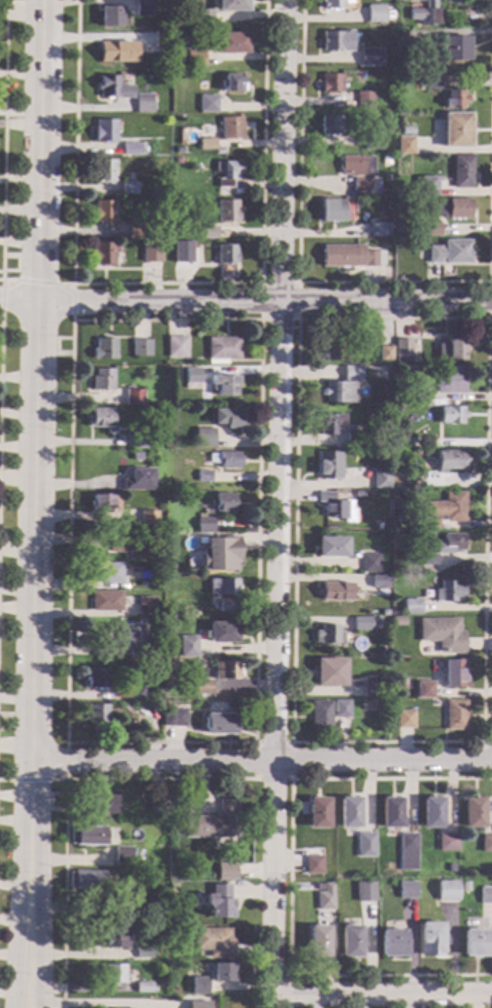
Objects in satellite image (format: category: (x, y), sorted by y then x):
building: (415, 0)
building: (334, 4)
building: (232, 5)
building: (142, 8)
building: (375, 14)
building: (425, 14)
building: (110, 16)
building: (204, 18)
building: (162, 40)
building: (337, 41)
building: (230, 43)
building: (453, 48)
building: (117, 52)
building: (165, 55)
building: (370, 57)
building: (195, 59)
building: (431, 82)
building: (233, 83)
building: (331, 83)
building: (113, 88)
building: (454, 99)
building: (364, 100)
building: (143, 103)
building: (208, 104)
building: (331, 125)
building: (232, 128)
building: (105, 130)
building: (455, 130)
building: (407, 131)
road: (3, 140)
building: (372, 141)
building: (207, 144)
building: (405, 145)
building: (130, 149)
building: (179, 161)
building: (386, 161)
building: (105, 170)
building: (358, 171)
building: (462, 172)
building: (229, 174)
building: (428, 186)
building: (129, 188)
building: (453, 208)
building: (332, 210)
building: (104, 211)
building: (227, 211)
building: (432, 230)
building: (135, 231)
building: (380, 231)
building: (210, 233)
building: (183, 251)
building: (151, 252)
building: (450, 253)
building: (103, 254)
building: (226, 255)
building: (351, 256)
building: (195, 270)
road: (36, 282)
road: (392, 282)
road: (298, 283)
road: (165, 284)
road: (245, 300)
road: (488, 300)
road: (297, 320)
road: (72, 321)
road: (56, 346)
building: (141, 347)
building: (176, 347)
building: (104, 349)
building: (222, 350)
building: (403, 350)
building: (452, 350)
building: (335, 352)
building: (385, 353)
building: (408, 369)
building: (351, 373)
building: (191, 376)
building: (103, 380)
building: (450, 381)
building: (225, 385)
building: (338, 392)
building: (415, 396)
building: (134, 397)
building: (451, 415)
road: (36, 416)
building: (101, 419)
building: (228, 419)
building: (396, 419)
building: (331, 425)
building: (366, 435)
building: (204, 437)
building: (353, 439)
building: (144, 440)
building: (401, 443)
building: (138, 456)
building: (224, 460)
building: (448, 460)
building: (328, 465)
building: (204, 477)
building: (140, 479)
building: (381, 479)
building: (160, 488)
road: (277, 496)
building: (411, 500)
building: (106, 502)
building: (223, 503)
building: (448, 507)
building: (335, 508)
building: (149, 518)
building: (429, 524)
building: (205, 525)
building: (117, 544)
building: (447, 544)
building: (331, 547)
building: (141, 549)
building: (220, 554)
building: (427, 560)
building: (369, 563)
building: (136, 568)
building: (107, 573)
building: (379, 585)
building: (223, 587)
building: (335, 592)
building: (448, 592)
building: (107, 601)
building: (147, 606)
building: (227, 606)
building: (411, 607)
building: (384, 612)
building: (398, 622)
building: (361, 623)
building: (222, 633)
building: (442, 634)
building: (328, 635)
building: (136, 640)
building: (187, 646)
building: (226, 671)
building: (330, 672)
building: (454, 674)
building: (98, 679)
building: (167, 684)
building: (202, 687)
building: (373, 688)
building: (423, 690)
building: (136, 693)
building: (148, 696)
building: (155, 706)
building: (341, 709)
building: (98, 714)
building: (454, 715)
building: (320, 716)
building: (174, 718)
building: (404, 719)
road: (10, 722)
building: (220, 724)
road: (290, 742)
road: (487, 742)
road: (66, 761)
road: (261, 763)
road: (33, 780)
road: (65, 800)
building: (101, 804)
building: (159, 806)
building: (318, 813)
building: (349, 813)
building: (390, 813)
building: (431, 813)
building: (473, 813)
building: (213, 821)
building: (87, 836)
building: (407, 842)
building: (446, 842)
building: (486, 844)
building: (365, 845)
building: (123, 856)
building: (313, 862)
building: (225, 870)
road: (288, 878)
building: (86, 881)
building: (318, 887)
building: (365, 890)
building: (407, 890)
building: (447, 891)
building: (486, 895)
building: (325, 898)
building: (219, 901)
building: (113, 911)
road: (18, 919)
road: (39, 919)
building: (115, 939)
building: (430, 940)
building: (214, 942)
building: (318, 942)
building: (350, 942)
building: (476, 943)
building: (392, 944)
building: (144, 953)
road: (251, 968)
building: (223, 973)
building: (114, 974)
building: (199, 986)
building: (143, 987)
road: (288, 991)
road: (382, 995)
building: (162, 1003)
building: (198, 1004)

